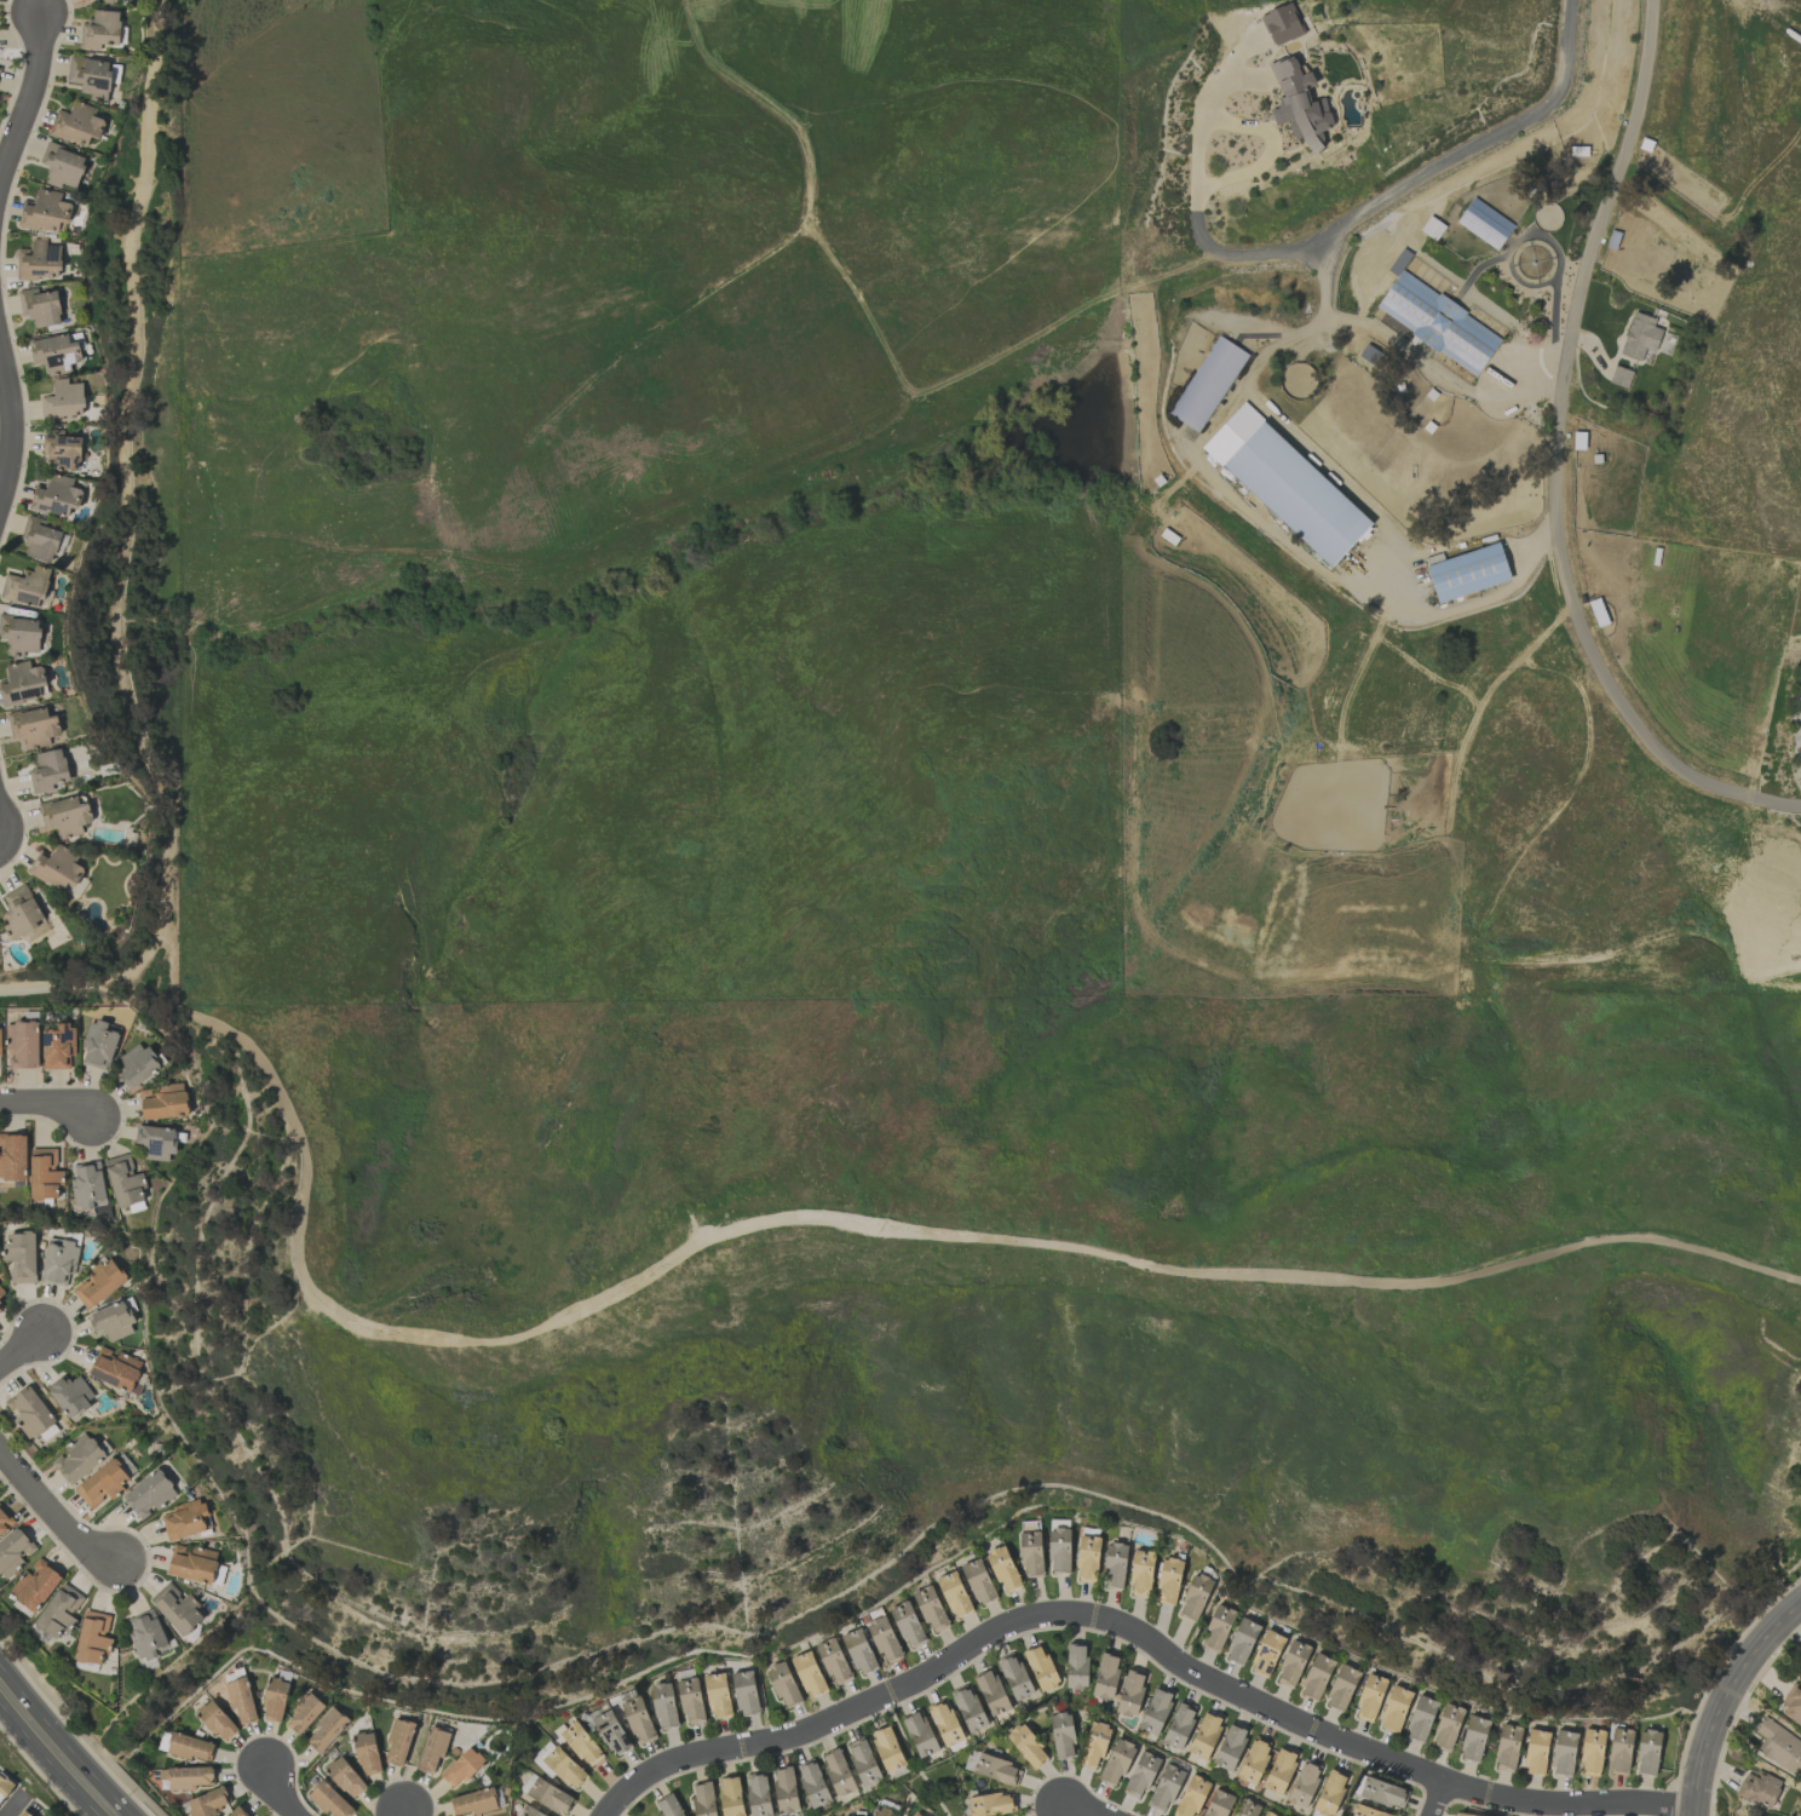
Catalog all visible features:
building: (109, 1)
building: (100, 30)
building: (90, 76)
rooftop solar panel: (100, 85)
road: (29, 87)
building: (1299, 105)
building: (76, 123)
road: (1255, 127)
building: (62, 166)
road: (1404, 185)
building: (46, 212)
building: (1484, 224)
rooftop solar panel: (54, 253)
building: (39, 262)
rooftop solar panel: (42, 271)
building: (40, 308)
building: (1438, 323)
building: (1640, 337)
building: (54, 354)
building: (1619, 377)
building: (1207, 384)
building: (63, 401)
building: (1231, 432)
road: (11, 437)
building: (62, 450)
road: (1557, 459)
building: (1296, 494)
building: (57, 496)
rooftop solar panel: (57, 510)
building: (40, 540)
rooftop solar panel: (1465, 562)
rooftop solar panel: (1497, 565)
rooftop solar panel: (1486, 569)
building: (1467, 573)
rooftop solar panel: (1475, 575)
rooftop solar panel: (1465, 577)
rooftop solar panel: (1451, 580)
rooftop solar panel: (1435, 584)
building: (25, 586)
rooftop solar panel: (1477, 587)
building: (22, 683)
rooftop solar panel: (31, 695)
rooftop solar panel: (17, 700)
building: (34, 726)
building: (48, 771)
road: (6, 824)
building: (58, 869)
building: (21, 912)
road: (93, 978)
rooftop solar panel: (68, 1036)
rooftop solar panel: (47, 1041)
building: (22, 1045)
building: (98, 1045)
building: (58, 1046)
building: (137, 1065)
building: (163, 1102)
road: (47, 1104)
building: (155, 1142)
building: (13, 1156)
building: (45, 1173)
building: (123, 1182)
building: (87, 1186)
building: (21, 1257)
building: (58, 1262)
building: (98, 1283)
building: (1, 1292)
building: (0, 1308)
building: (111, 1321)
road: (385, 1332)
road: (21, 1350)
building: (115, 1368)
building: (70, 1397)
building: (29, 1413)
building: (77, 1458)
building: (102, 1483)
building: (150, 1494)
road: (54, 1513)
building: (5, 1521)
building: (184, 1521)
building: (15, 1551)
building: (1059, 1551)
building: (1030, 1553)
building: (1087, 1558)
building: (192, 1563)
building: (1114, 1565)
building: (1002, 1569)
building: (1141, 1573)
building: (978, 1581)
building: (1168, 1581)
building: (36, 1585)
building: (954, 1594)
building: (1195, 1597)
building: (177, 1609)
building: (930, 1609)
building: (59, 1611)
building: (907, 1624)
building: (1218, 1628)
building: (146, 1636)
building: (92, 1638)
road: (1140, 1638)
building: (884, 1639)
building: (1242, 1640)
rooftop solar panel: (1262, 1648)
rooftop solar panel: (1272, 1649)
building: (858, 1651)
building: (1266, 1653)
building: (833, 1660)
rooftop solar panel: (1261, 1661)
building: (1291, 1663)
building: (1076, 1666)
building: (1041, 1667)
rooftop solar panel: (1270, 1668)
building: (809, 1674)
building: (1014, 1677)
building: (1105, 1677)
building: (1316, 1677)
building: (782, 1684)
building: (1341, 1688)
building: (746, 1693)
building: (991, 1693)
building: (1130, 1694)
building: (717, 1695)
building: (1369, 1697)
building: (274, 1700)
building: (690, 1700)
building: (241, 1701)
road: (1727, 1701)
building: (663, 1706)
building: (1791, 1706)
building: (968, 1708)
building: (1394, 1708)
building: (1155, 1712)
building: (303, 1714)
building: (1421, 1718)
building: (638, 1719)
building: (215, 1720)
building: (945, 1724)
building: (1179, 1725)
building: (1446, 1726)
building: (326, 1730)
building: (611, 1732)
building: (920, 1735)
building: (1061, 1735)
building: (1204, 1736)
building: (1473, 1739)
building: (398, 1741)
building: (581, 1743)
building: (1026, 1746)
building: (1094, 1746)
building: (1778, 1746)
building: (190, 1747)
building: (1230, 1747)
building: (1507, 1747)
building: (887, 1749)
building: (432, 1751)
building: (1619, 1751)
building: (1536, 1752)
building: (1592, 1752)
building: (1647, 1752)
road: (56, 1753)
building: (367, 1753)
building: (1564, 1753)
building: (863, 1762)
building: (1116, 1762)
building: (1253, 1762)
building: (461, 1768)
building: (564, 1768)
building: (996, 1770)
building: (1279, 1771)
building: (838, 1772)
building: (1140, 1775)
building: (186, 1777)
building: (345, 1777)
building: (812, 1783)
building: (1304, 1785)
building: (4, 1787)
building: (1166, 1787)
building: (1757, 1788)
building: (784, 1789)
building: (1330, 1793)
building: (1382, 1793)
road: (276, 1794)
building: (549, 1795)
building: (758, 1795)
building: (730, 1797)
building: (1191, 1797)
building: (703, 1799)
building: (329, 1800)
road: (1439, 1800)
building: (208, 1803)
building: (473, 1803)
building: (991, 1804)
building: (1218, 1804)
road: (15, 1806)
building: (668, 1806)
building: (1245, 1809)
building: (237, 1811)
road: (1077, 1811)
building: (1365, 1811)
building: (529, 1812)
building: (884, 1812)
building: (23, 1814)
road: (402, 1814)
building: (1266, 1814)
building: (916, 1815)
building: (1463, 1815)

